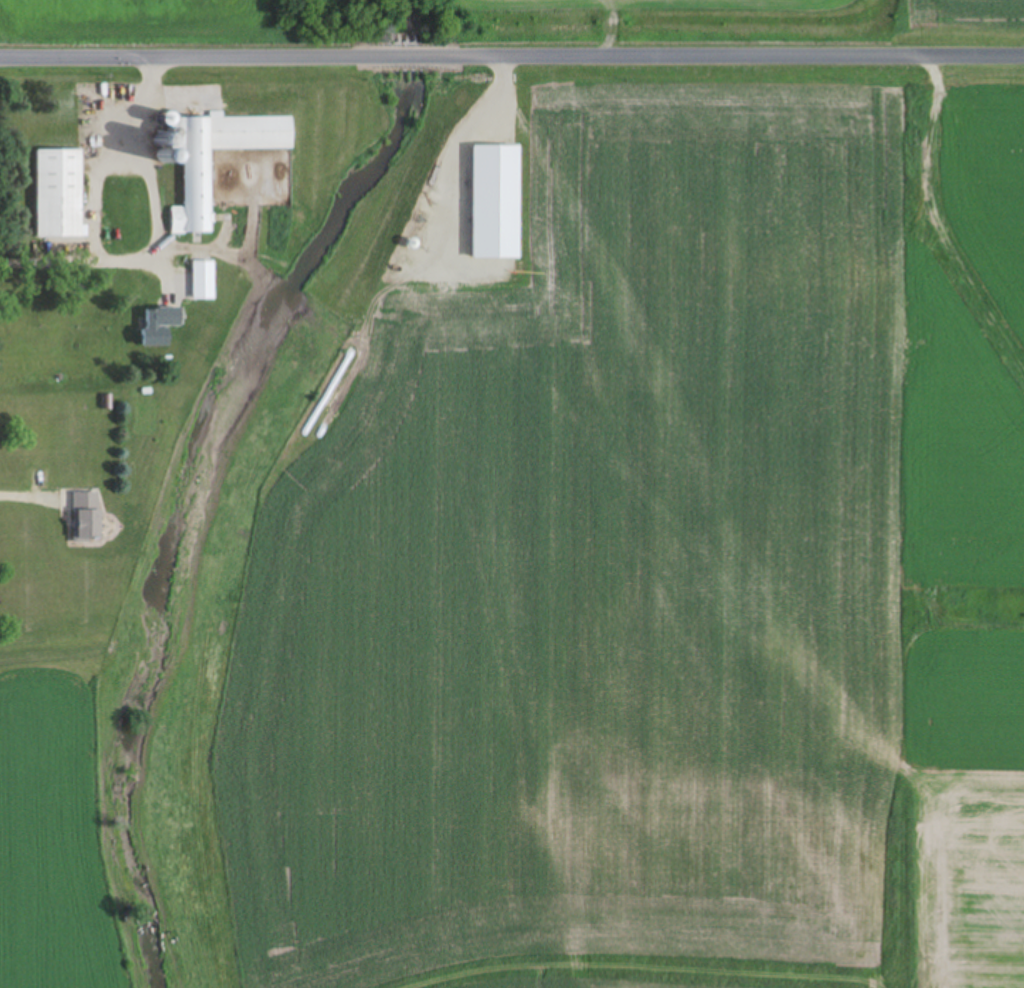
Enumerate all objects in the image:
crop: (740, 24)
road: (724, 56)
road: (407, 57)
road: (195, 58)
building: (199, 185)
building: (61, 192)
building: (205, 279)
river: (287, 321)
building: (161, 324)
building: (87, 515)
crop: (656, 555)
river: (159, 823)
crop: (54, 837)

